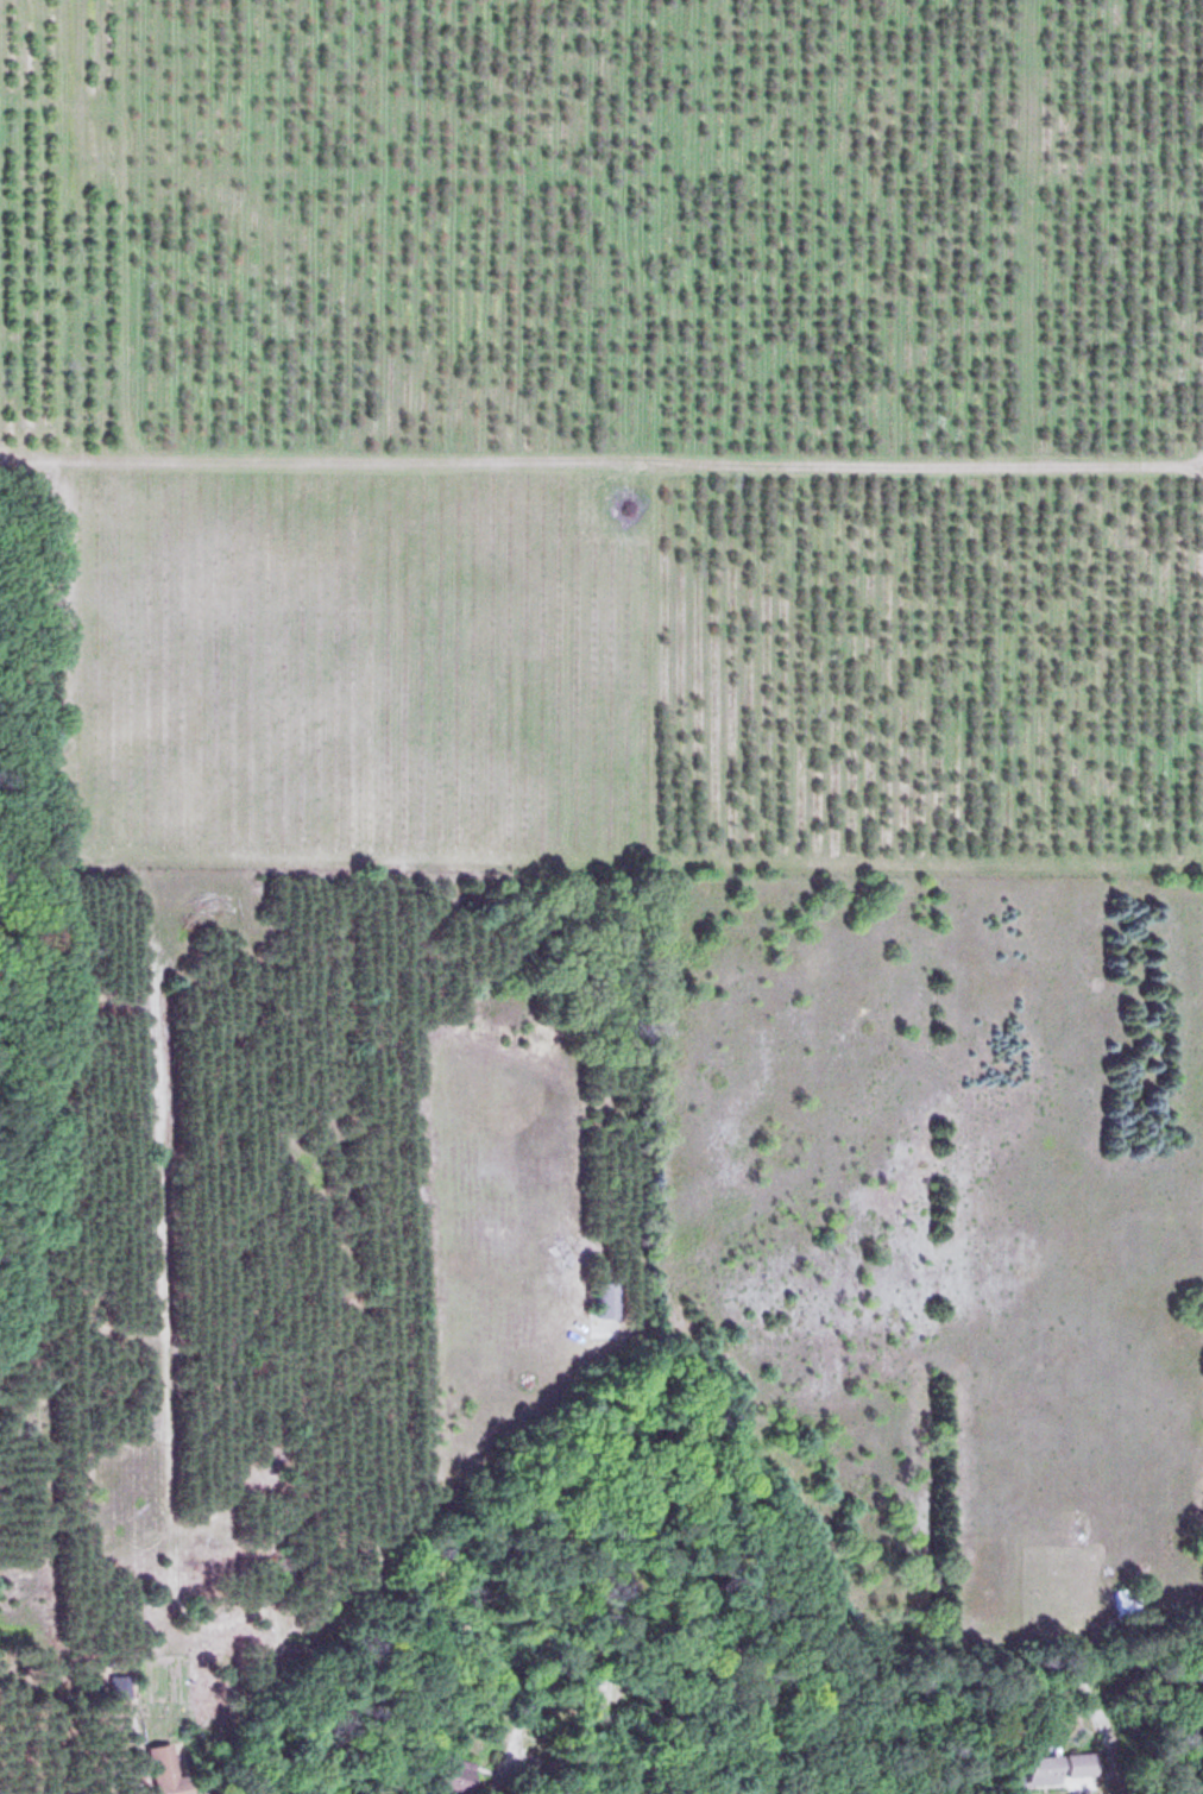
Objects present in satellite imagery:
building: (605, 1297)
building: (1128, 1599)
building: (1057, 1764)
building: (168, 1767)
building: (454, 1770)

